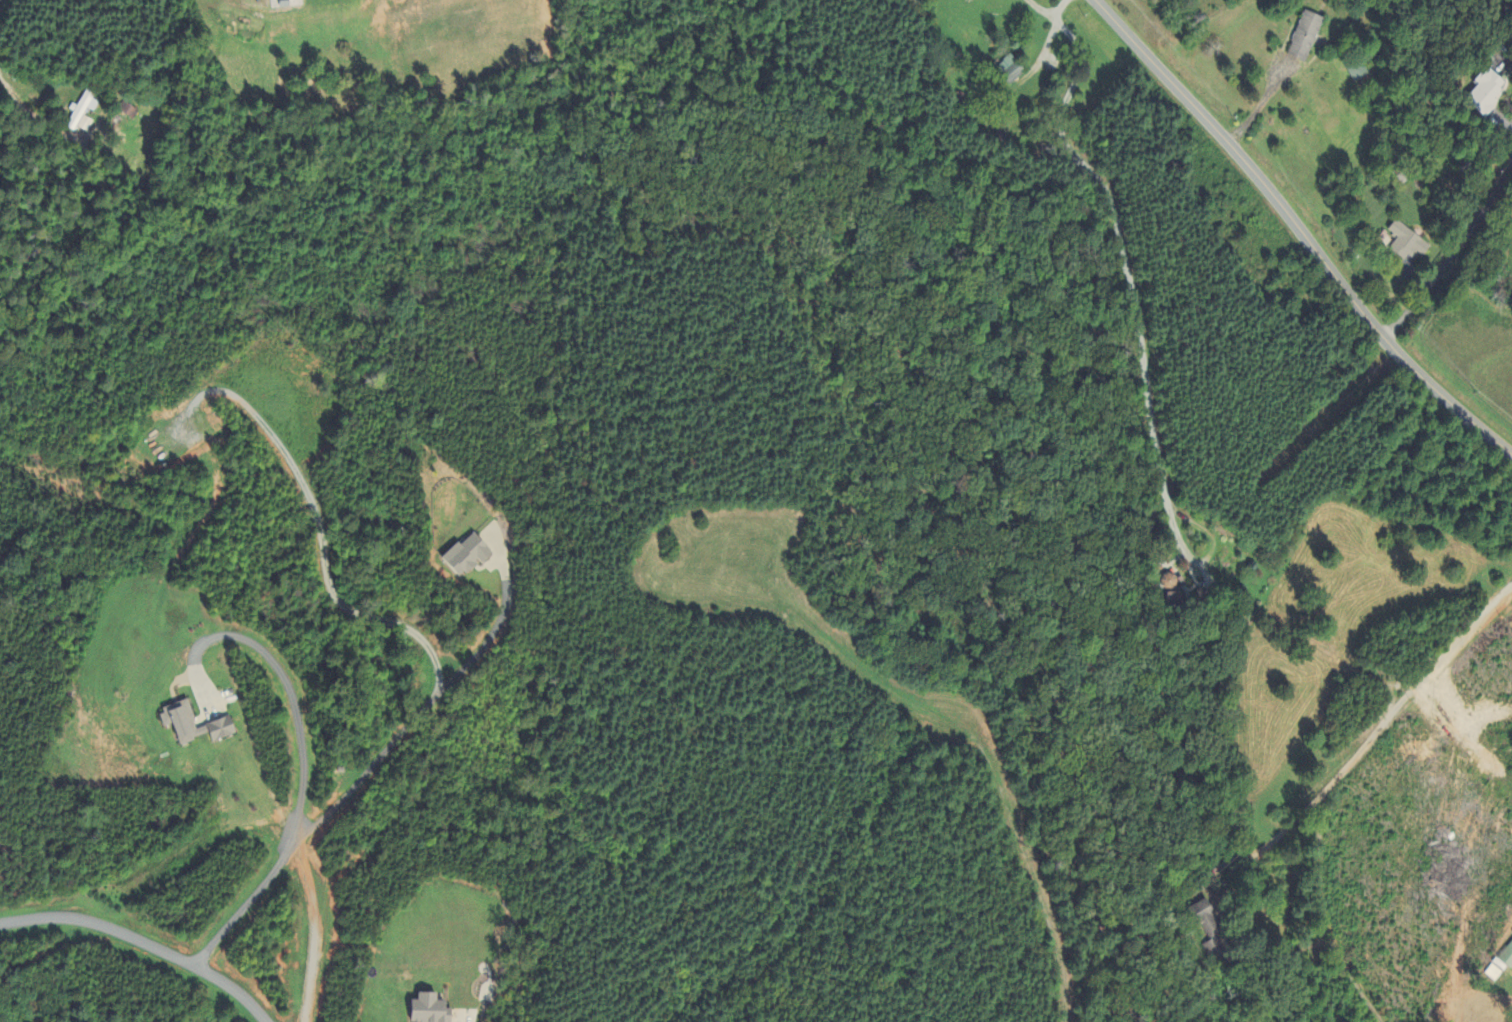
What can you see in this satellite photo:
road: (1043, 12)
building: (1305, 38)
road: (1035, 63)
building: (1011, 70)
building: (1356, 73)
building: (1487, 92)
building: (82, 109)
road: (32, 115)
road: (1503, 123)
building: (85, 125)
road: (1299, 230)
road: (1121, 241)
building: (1408, 243)
road: (1449, 258)
road: (1408, 282)
road: (322, 549)
building: (469, 556)
road: (1205, 559)
road: (438, 692)
road: (1382, 725)
building: (195, 726)
road: (301, 759)
building: (1209, 931)
road: (144, 943)
building: (1507, 958)
building: (433, 1011)
road: (464, 1019)

